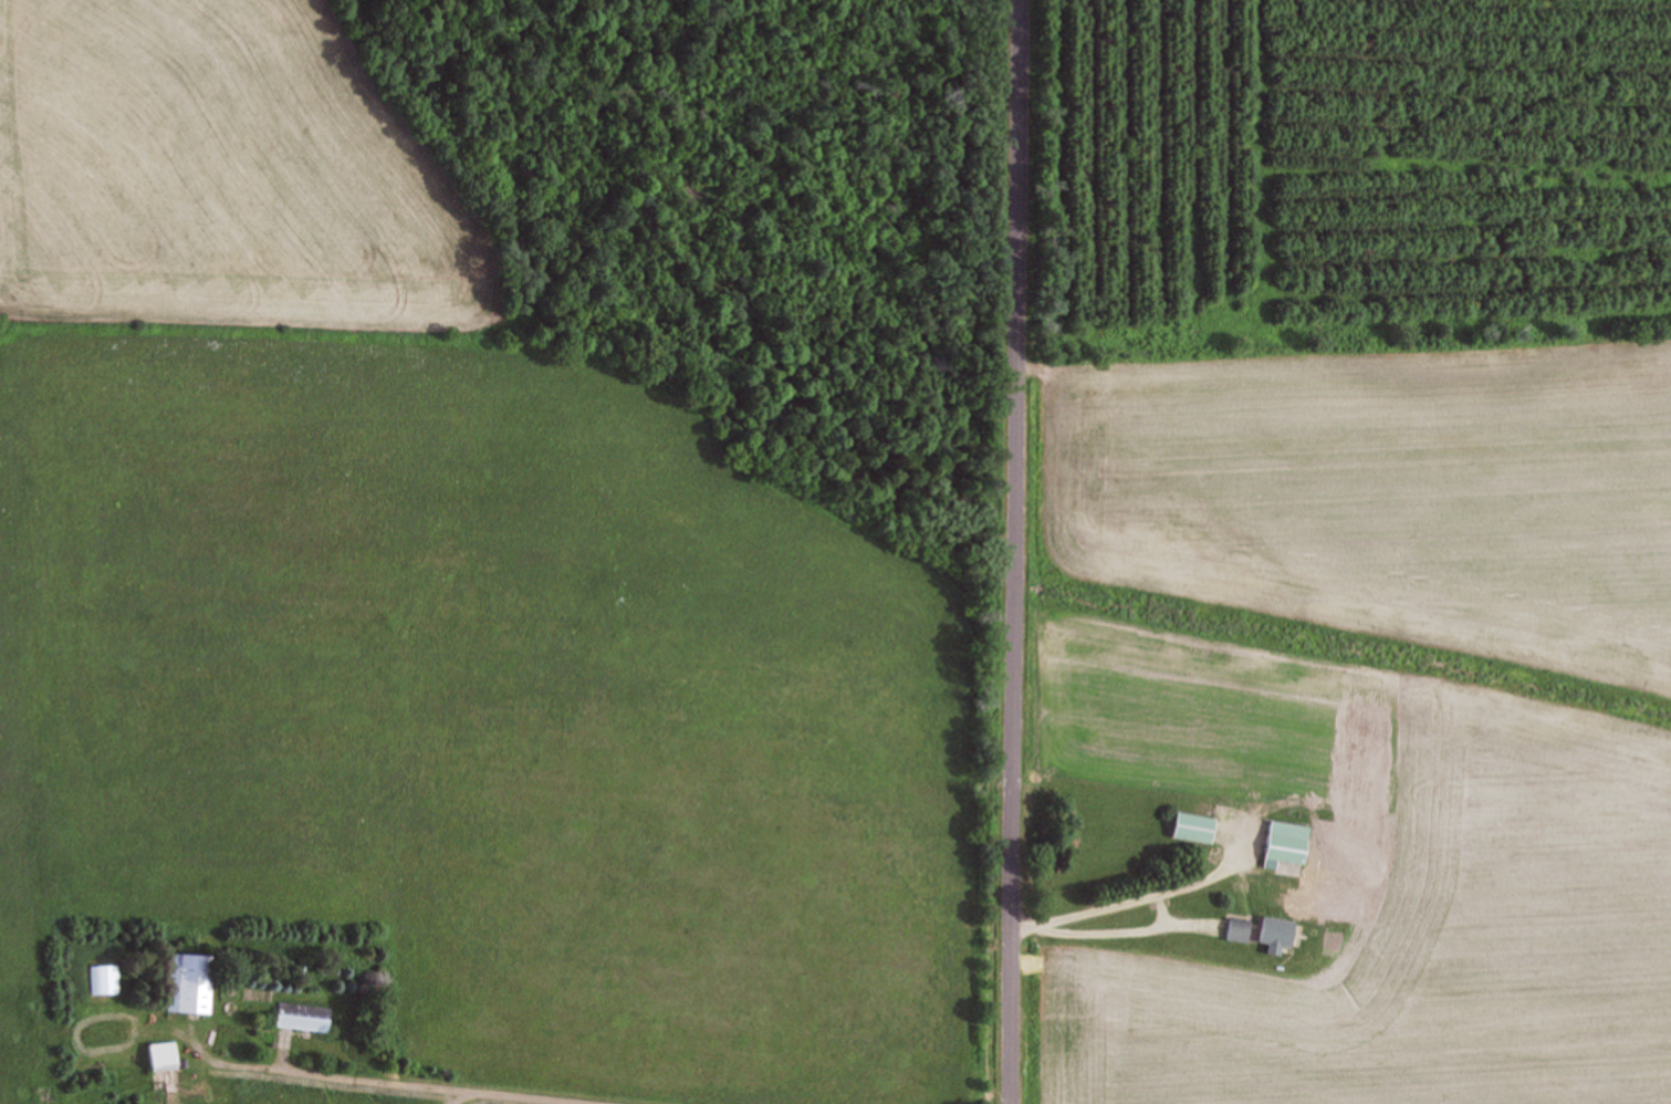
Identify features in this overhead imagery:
road: (1025, 552)
building: (1218, 793)
building: (1190, 826)
building: (1284, 843)
building: (1262, 930)
building: (107, 978)
building: (195, 981)
building: (307, 1016)
building: (169, 1055)
road: (409, 1082)

